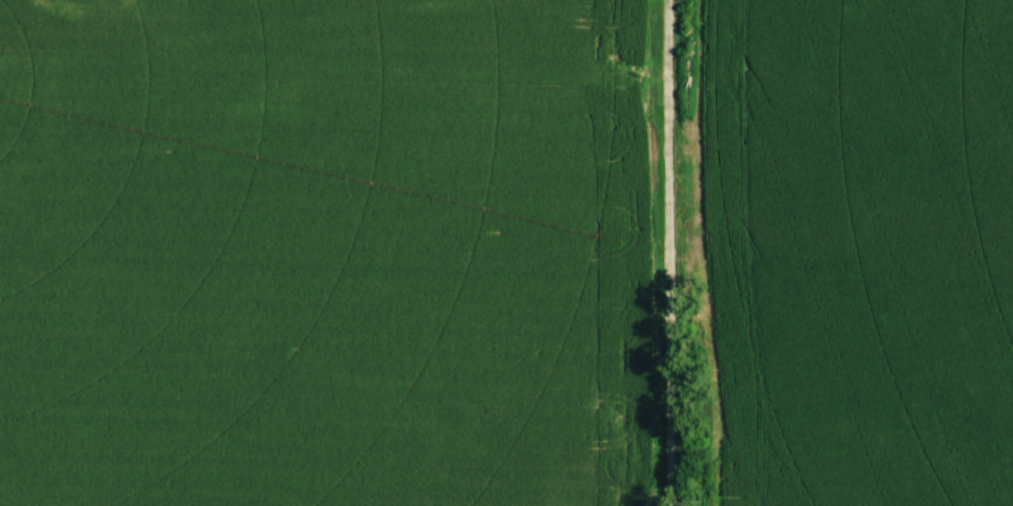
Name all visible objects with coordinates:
road: (667, 253)

